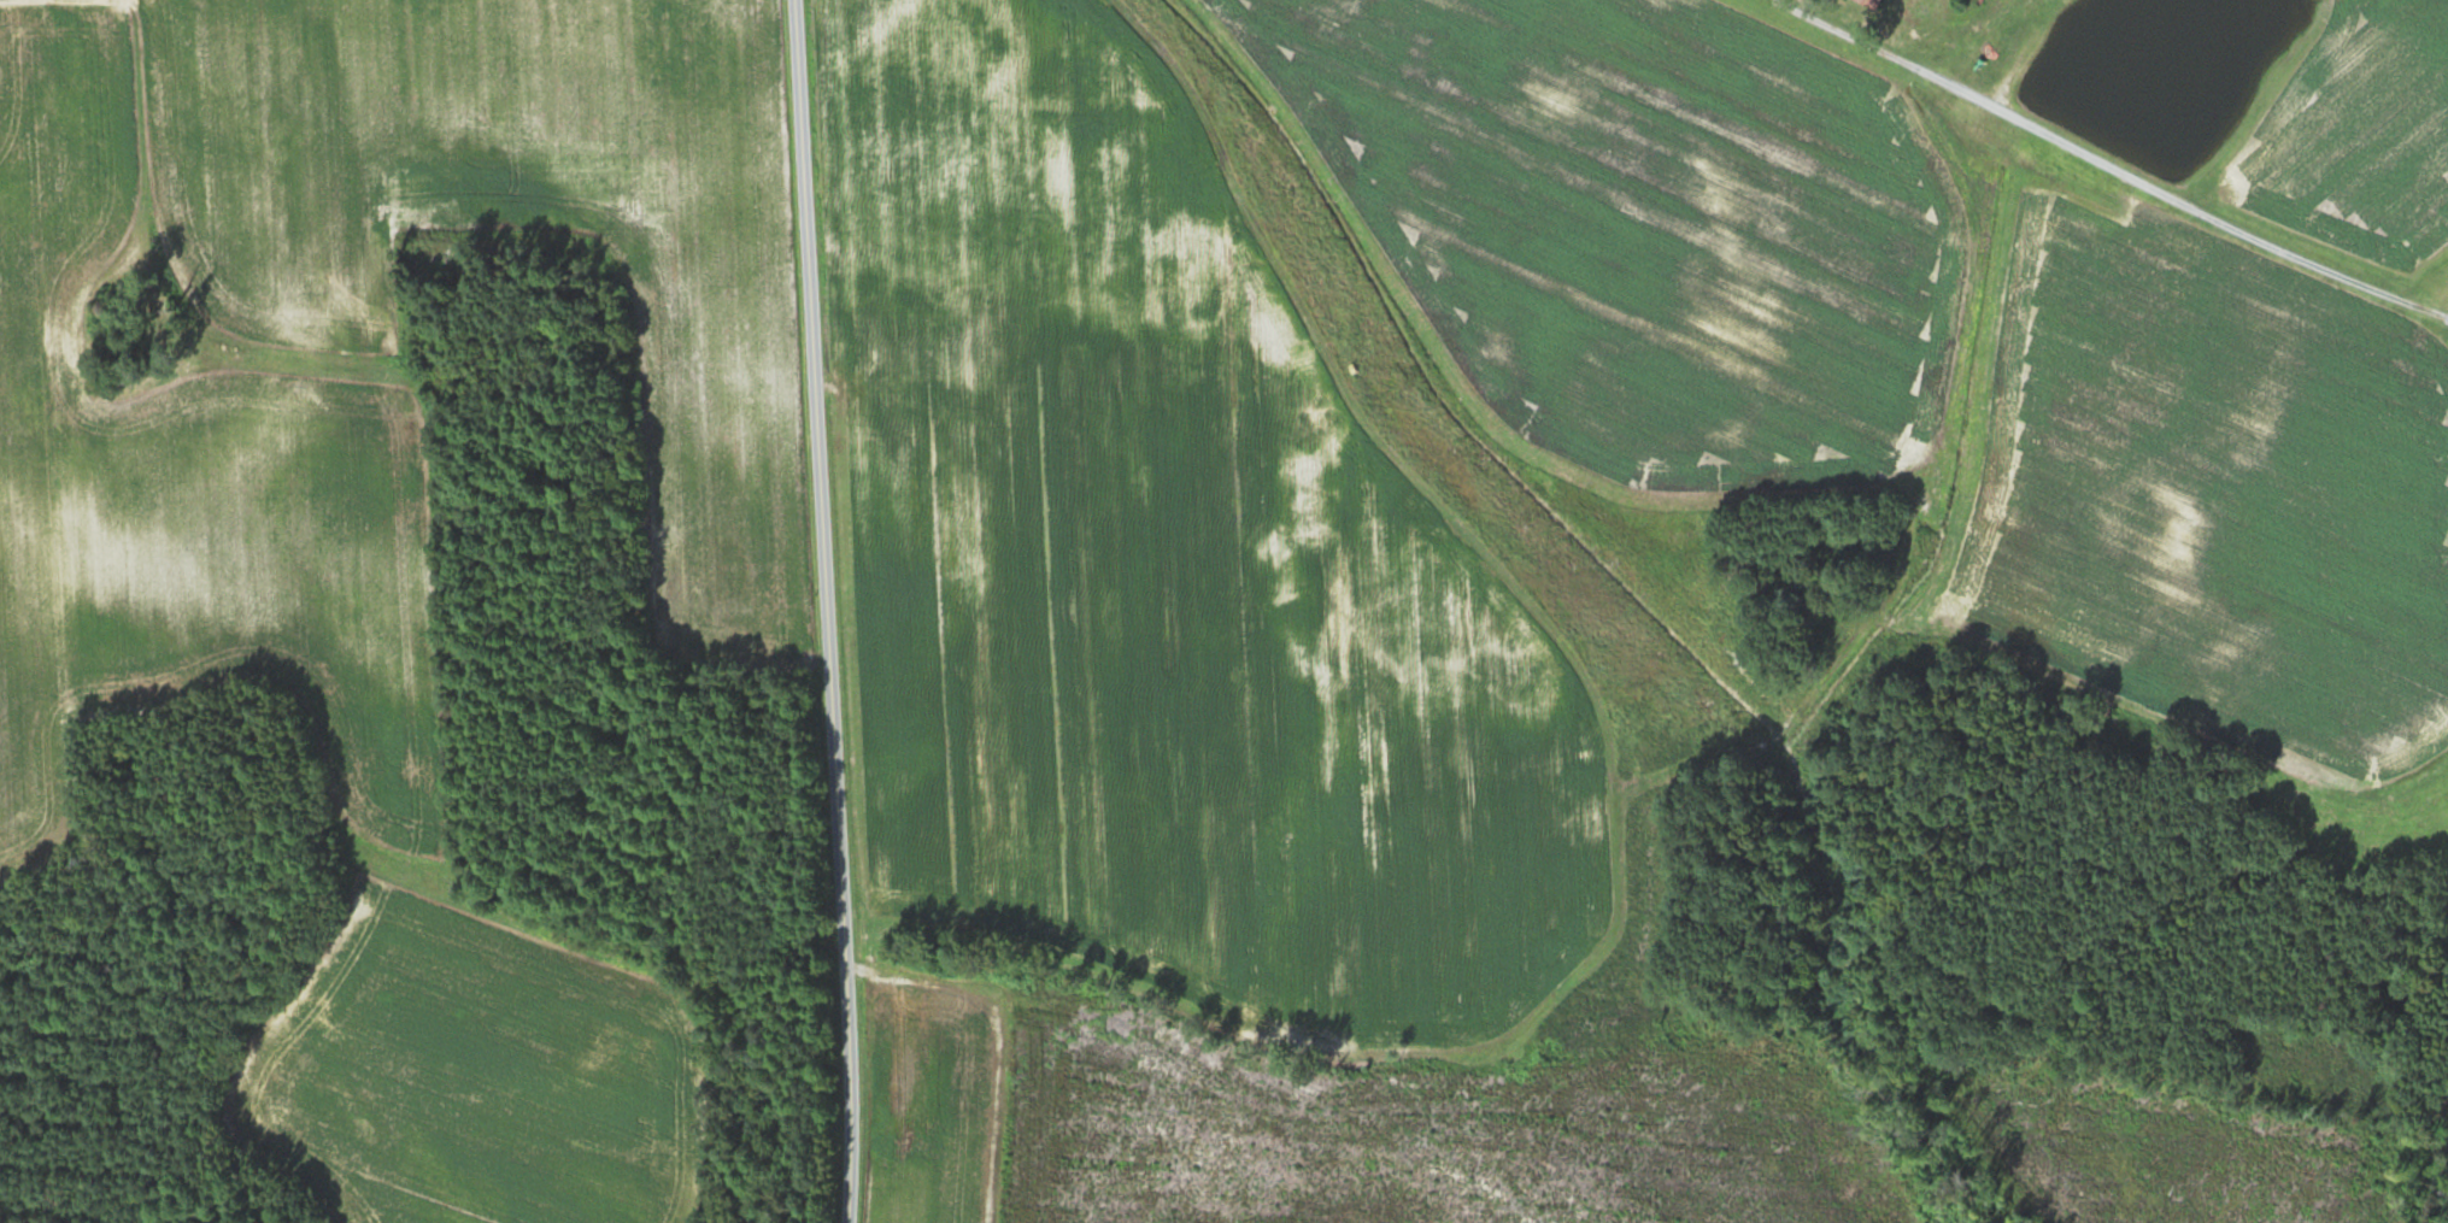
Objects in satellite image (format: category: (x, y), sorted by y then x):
building: (1888, 8)
road: (2104, 165)
road: (828, 611)

